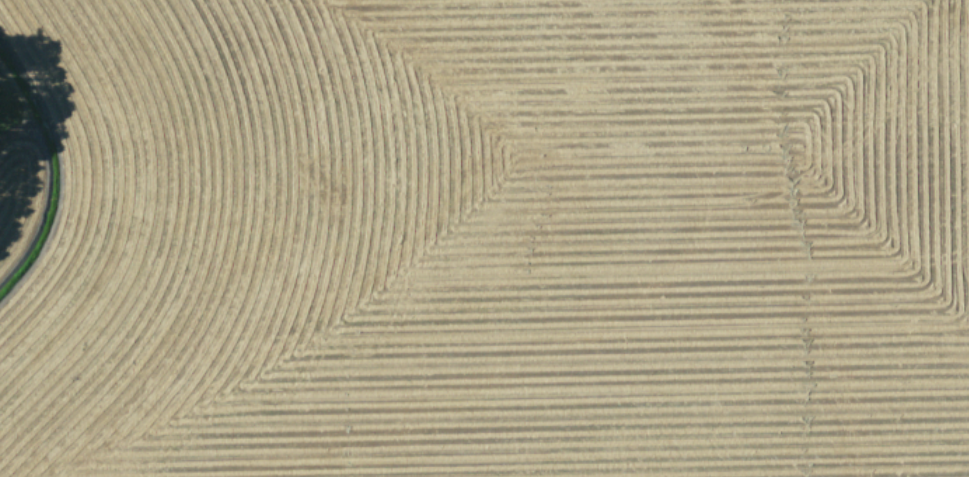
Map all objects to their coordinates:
crop: (484, 238)

